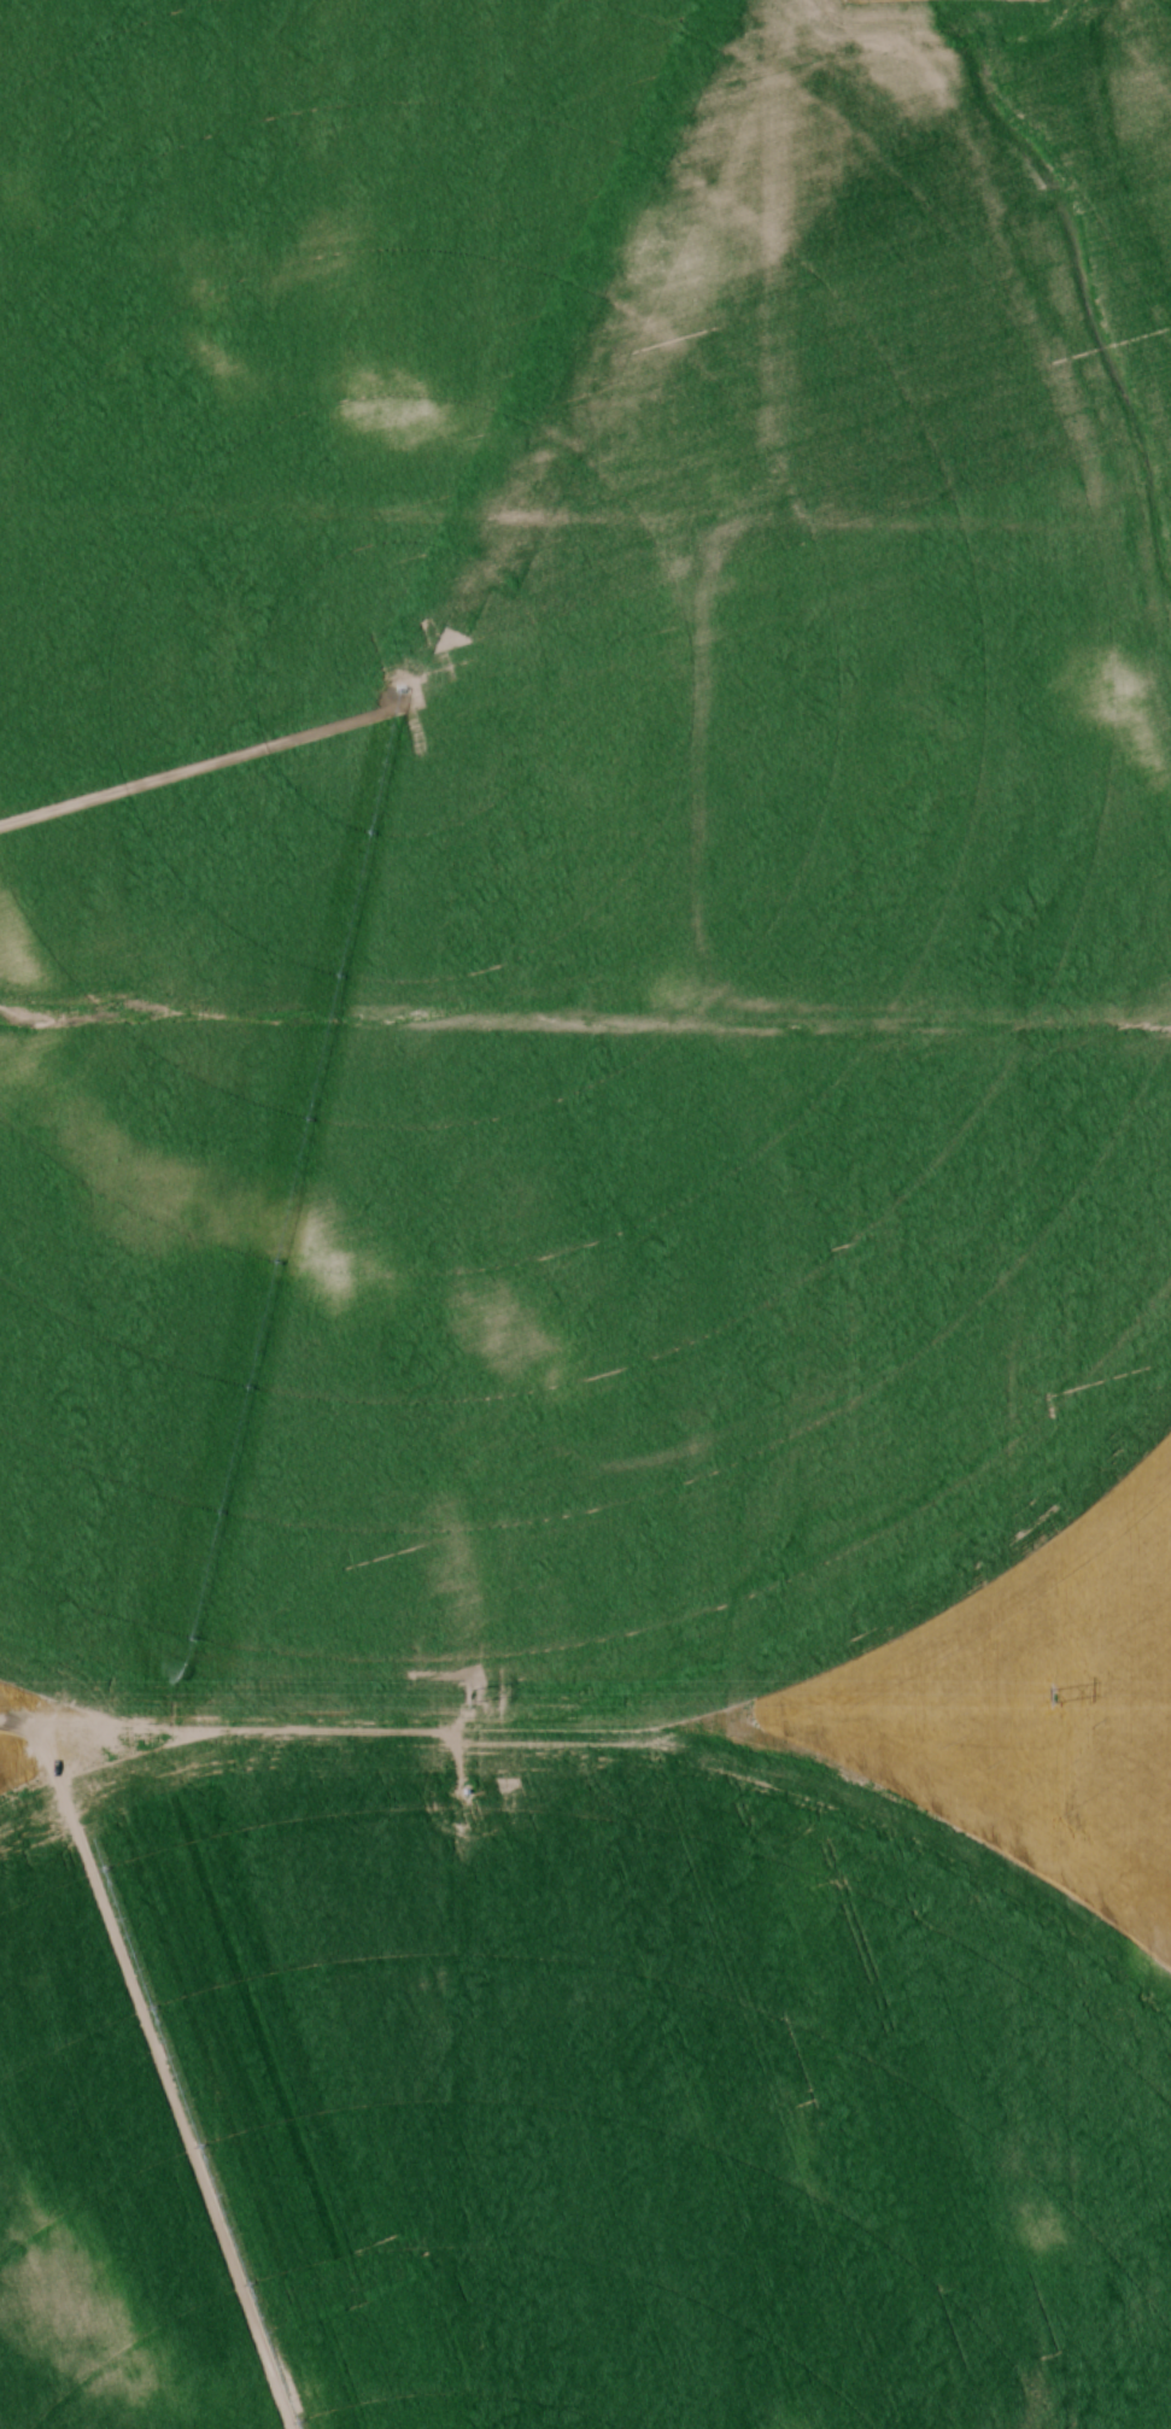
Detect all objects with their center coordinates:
power tower: (468, 1692)
power tower: (1055, 1696)

